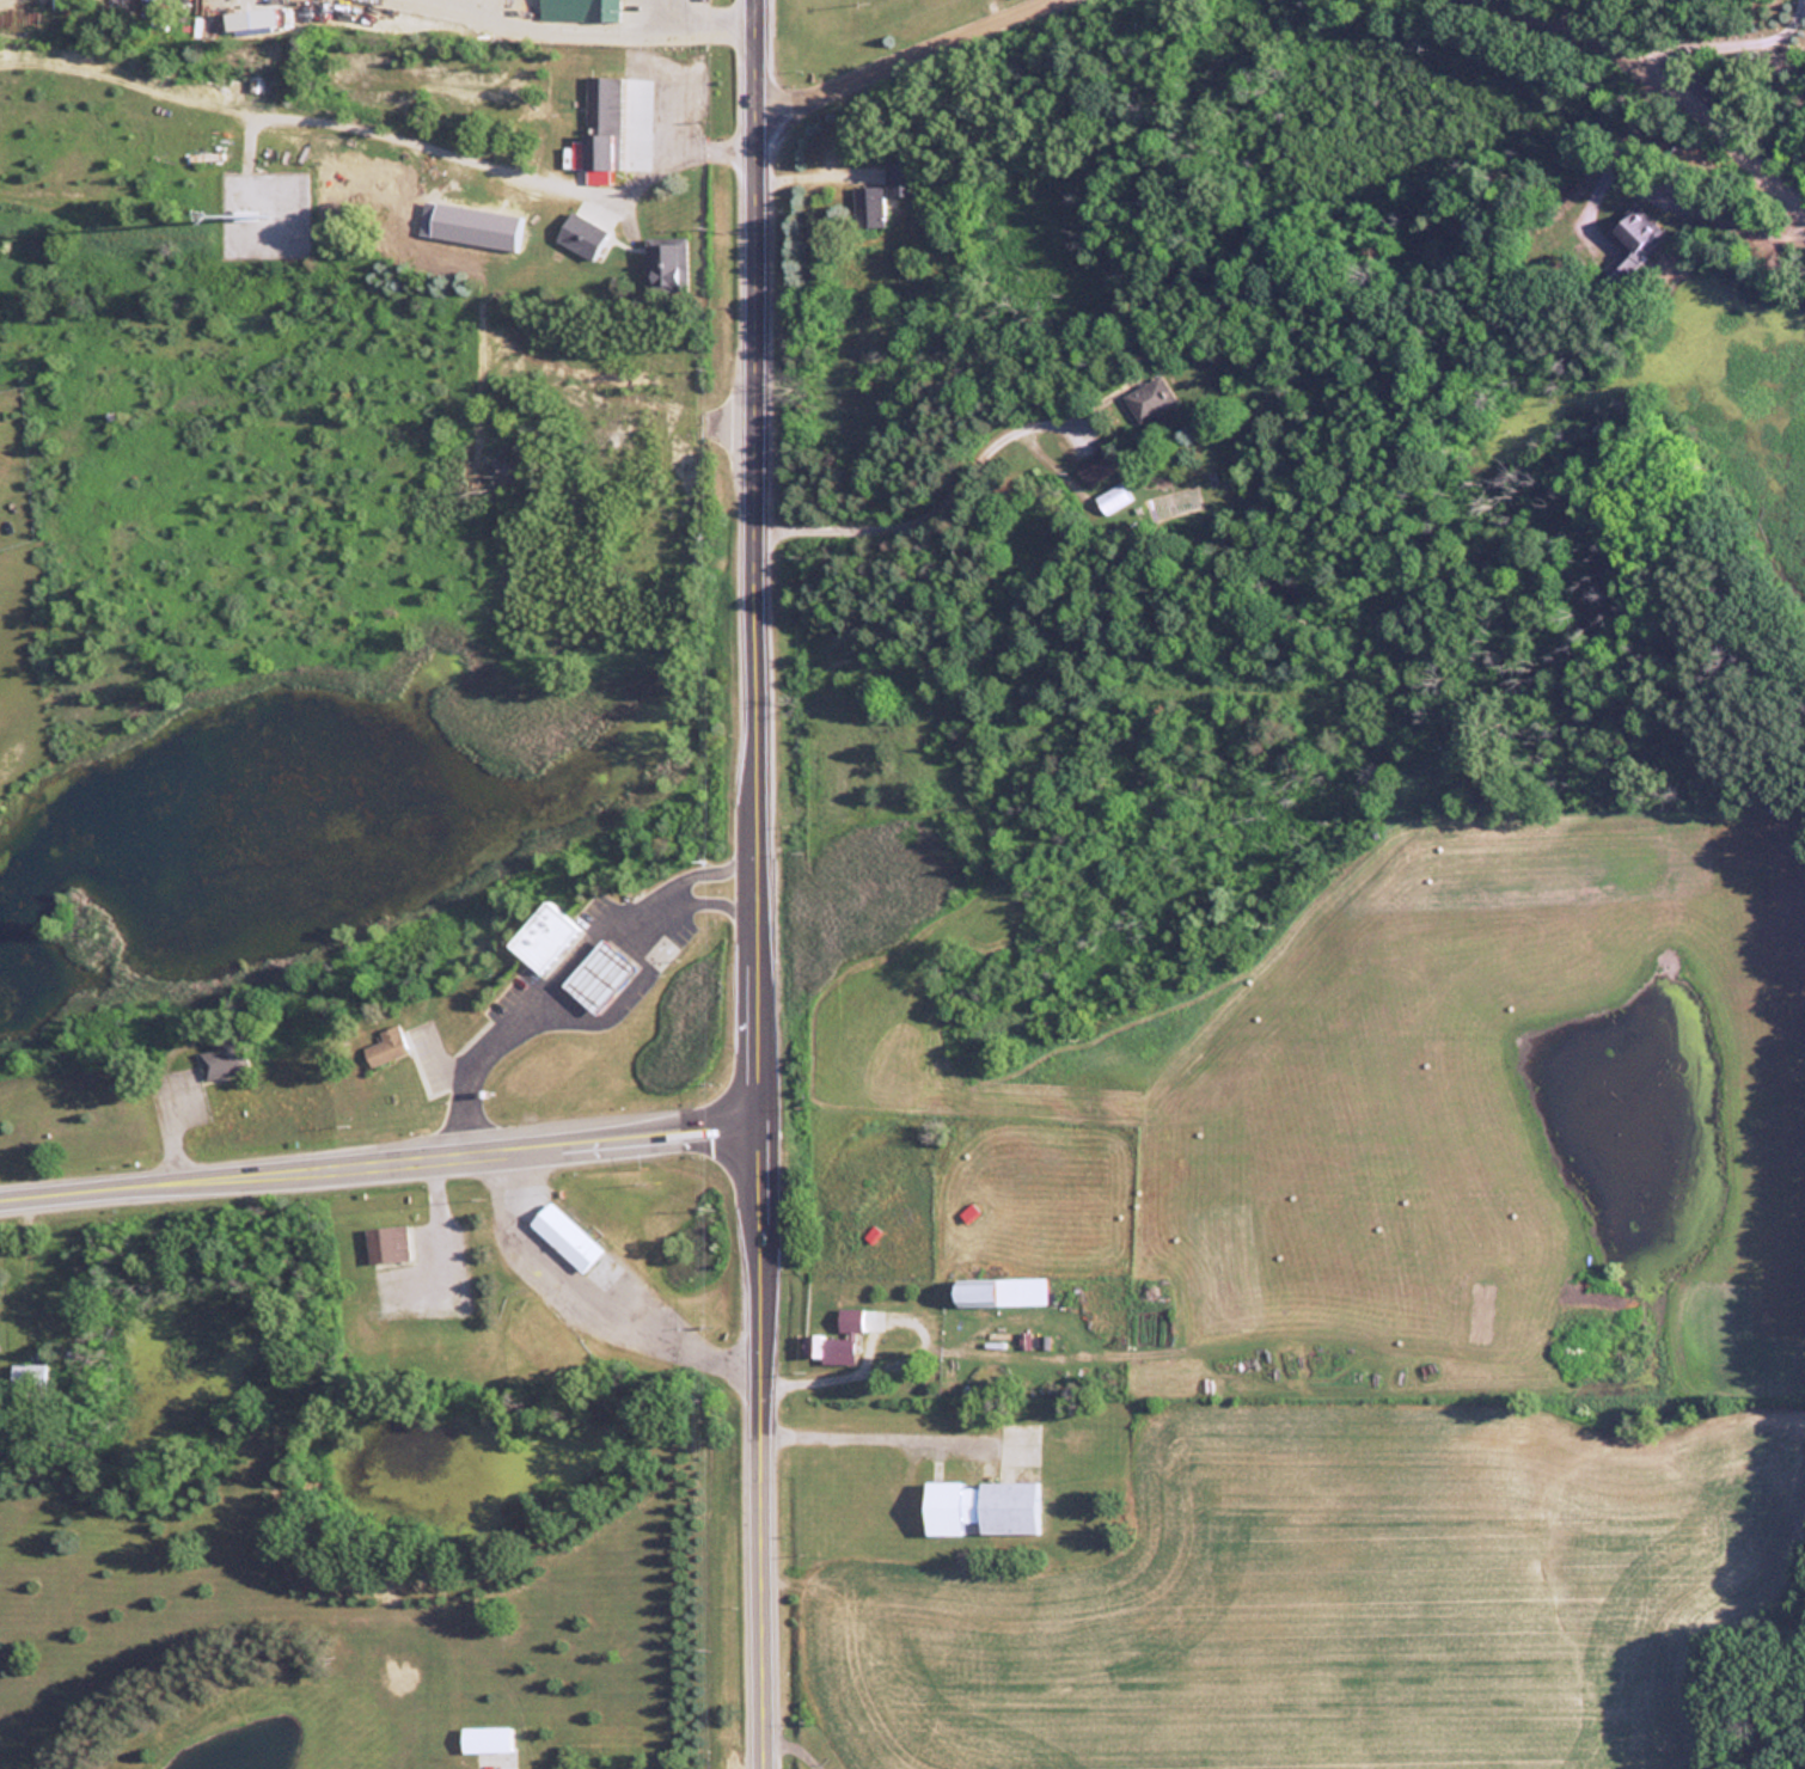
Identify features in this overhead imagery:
building: (580, 10)
road: (894, 53)
road: (1689, 80)
building: (600, 122)
building: (901, 178)
building: (869, 206)
building: (1636, 231)
building: (485, 234)
building: (904, 259)
building: (667, 263)
building: (1152, 397)
building: (1101, 469)
building: (1115, 497)
road: (760, 884)
building: (546, 937)
building: (599, 974)
building: (386, 1046)
building: (224, 1057)
road: (380, 1158)
building: (565, 1237)
building: (387, 1243)
building: (998, 1292)
building: (844, 1334)
building: (29, 1373)
building: (981, 1506)
building: (485, 1738)

